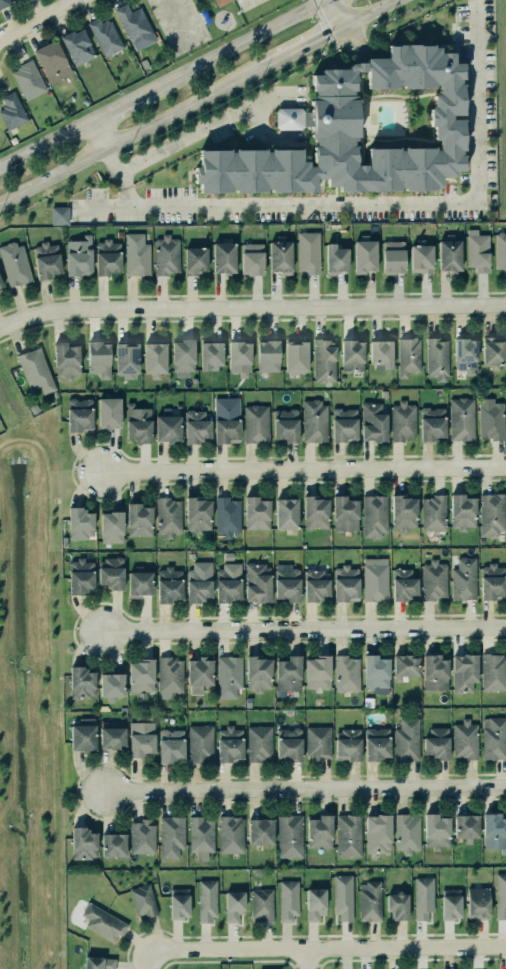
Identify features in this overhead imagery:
building: (218, 2)
building: (4, 3)
road: (339, 13)
road: (372, 13)
road: (39, 19)
road: (198, 19)
park: (206, 22)
parking lot: (177, 23)
road: (178, 23)
building: (135, 26)
traffic signals: (346, 26)
building: (105, 36)
building: (78, 47)
road: (304, 47)
building: (51, 59)
building: (144, 63)
building: (29, 79)
road: (164, 83)
park: (500, 107)
building: (12, 111)
building: (288, 118)
road: (207, 127)
building: (360, 130)
road: (97, 135)
road: (131, 136)
road: (118, 177)
road: (371, 205)
building: (59, 215)
building: (307, 251)
building: (478, 251)
building: (500, 251)
building: (362, 253)
building: (164, 254)
building: (136, 255)
building: (449, 255)
building: (77, 256)
building: (278, 256)
building: (392, 256)
building: (105, 257)
building: (222, 257)
building: (250, 258)
building: (419, 258)
building: (44, 259)
building: (335, 259)
building: (195, 260)
building: (15, 264)
building: (0, 284)
road: (251, 306)
building: (493, 351)
building: (208, 352)
building: (380, 353)
building: (153, 354)
building: (179, 354)
building: (464, 354)
building: (266, 355)
building: (350, 355)
building: (295, 356)
building: (407, 356)
building: (238, 357)
building: (96, 358)
building: (436, 358)
building: (124, 359)
building: (64, 360)
building: (322, 360)
building: (36, 371)
building: (107, 412)
building: (78, 414)
building: (460, 418)
building: (491, 419)
building: (313, 420)
building: (402, 421)
building: (373, 422)
building: (136, 423)
building: (254, 423)
building: (432, 424)
building: (286, 425)
building: (344, 425)
building: (166, 426)
building: (225, 426)
building: (196, 427)
road: (29, 441)
road: (304, 471)
building: (402, 512)
building: (432, 512)
building: (461, 512)
building: (255, 513)
building: (315, 513)
building: (490, 513)
building: (198, 514)
building: (344, 514)
building: (371, 514)
building: (285, 515)
building: (168, 517)
building: (227, 517)
building: (138, 520)
building: (80, 523)
building: (111, 527)
building: (109, 572)
building: (78, 576)
building: (432, 579)
building: (464, 579)
building: (373, 581)
building: (198, 582)
building: (492, 582)
building: (137, 583)
building: (227, 583)
building: (257, 583)
building: (286, 583)
building: (344, 583)
building: (314, 584)
building: (402, 584)
building: (169, 585)
road: (305, 631)
building: (405, 667)
building: (138, 672)
building: (376, 672)
building: (463, 672)
building: (318, 673)
building: (435, 673)
building: (493, 673)
building: (259, 674)
building: (346, 674)
building: (288, 675)
building: (170, 676)
building: (199, 676)
building: (229, 676)
building: (81, 683)
building: (111, 686)
road: (49, 717)
building: (110, 733)
building: (83, 735)
building: (494, 738)
building: (406, 739)
building: (464, 739)
building: (141, 740)
building: (197, 740)
building: (259, 743)
building: (318, 743)
building: (435, 743)
building: (228, 744)
building: (287, 744)
building: (377, 744)
building: (171, 745)
building: (347, 745)
road: (305, 788)
building: (464, 827)
building: (258, 828)
building: (492, 830)
building: (436, 831)
building: (319, 832)
building: (376, 832)
building: (407, 833)
building: (231, 834)
building: (140, 836)
building: (289, 836)
building: (348, 836)
building: (171, 837)
building: (200, 837)
building: (83, 844)
building: (112, 845)
building: (500, 895)
building: (341, 896)
building: (422, 897)
building: (143, 900)
building: (207, 901)
building: (288, 901)
building: (369, 901)
building: (231, 902)
building: (179, 903)
building: (478, 903)
building: (261, 904)
building: (315, 904)
building: (451, 904)
building: (396, 905)
building: (103, 922)
road: (327, 949)
road: (149, 959)
road: (306, 959)
building: (99, 963)
building: (388, 968)

